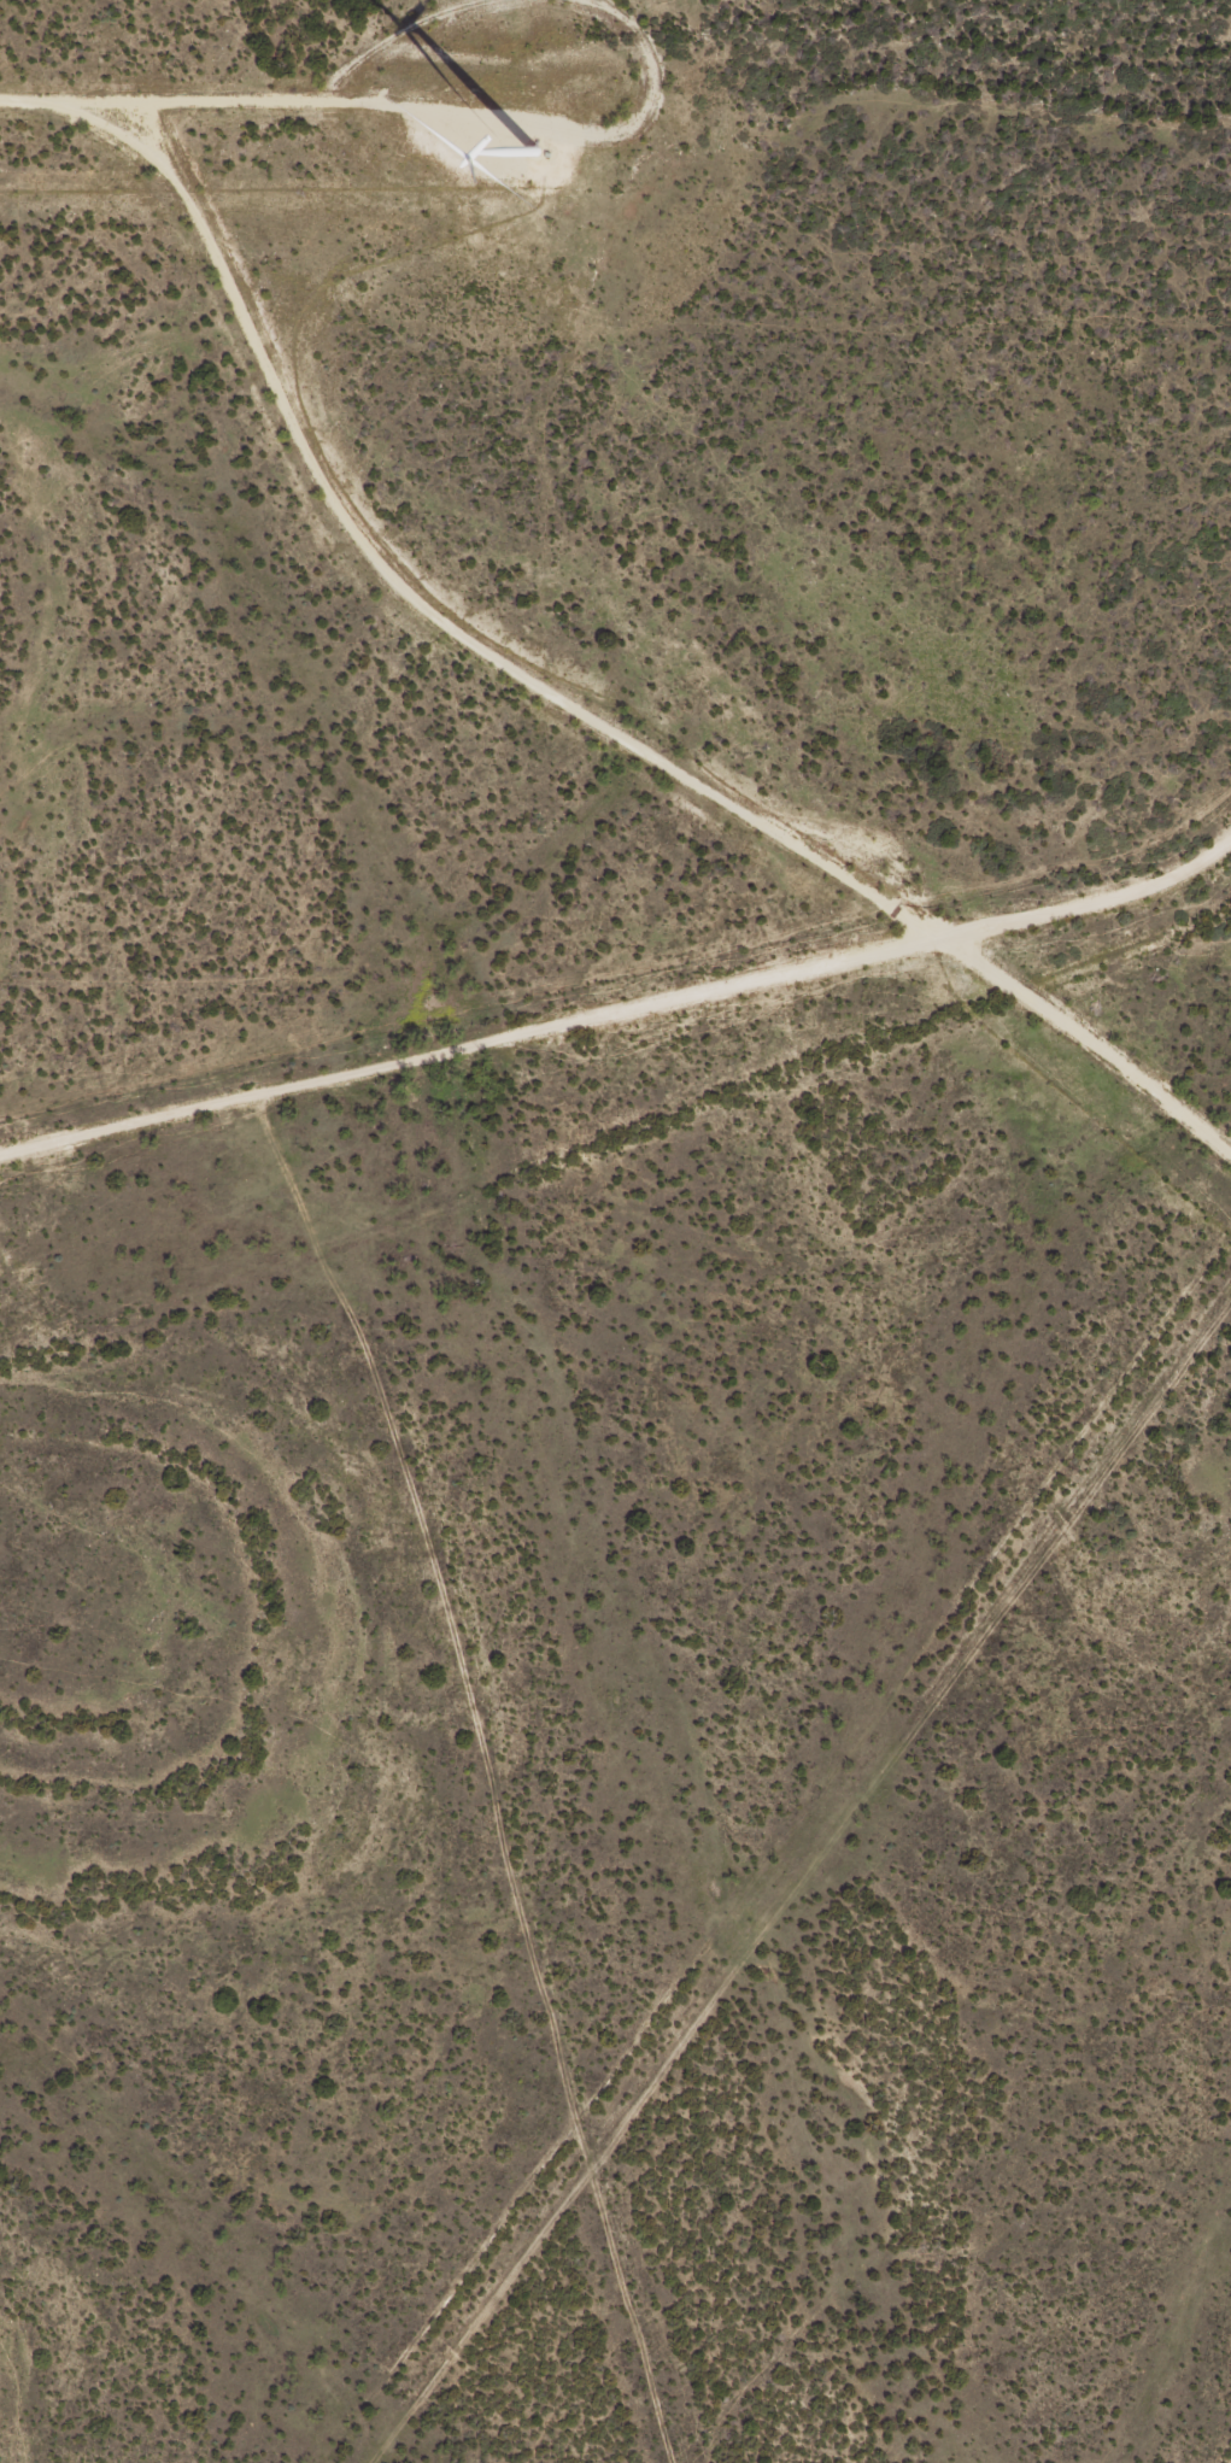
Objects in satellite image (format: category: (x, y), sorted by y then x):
wind turbine: (537, 142)
road: (631, 1034)

